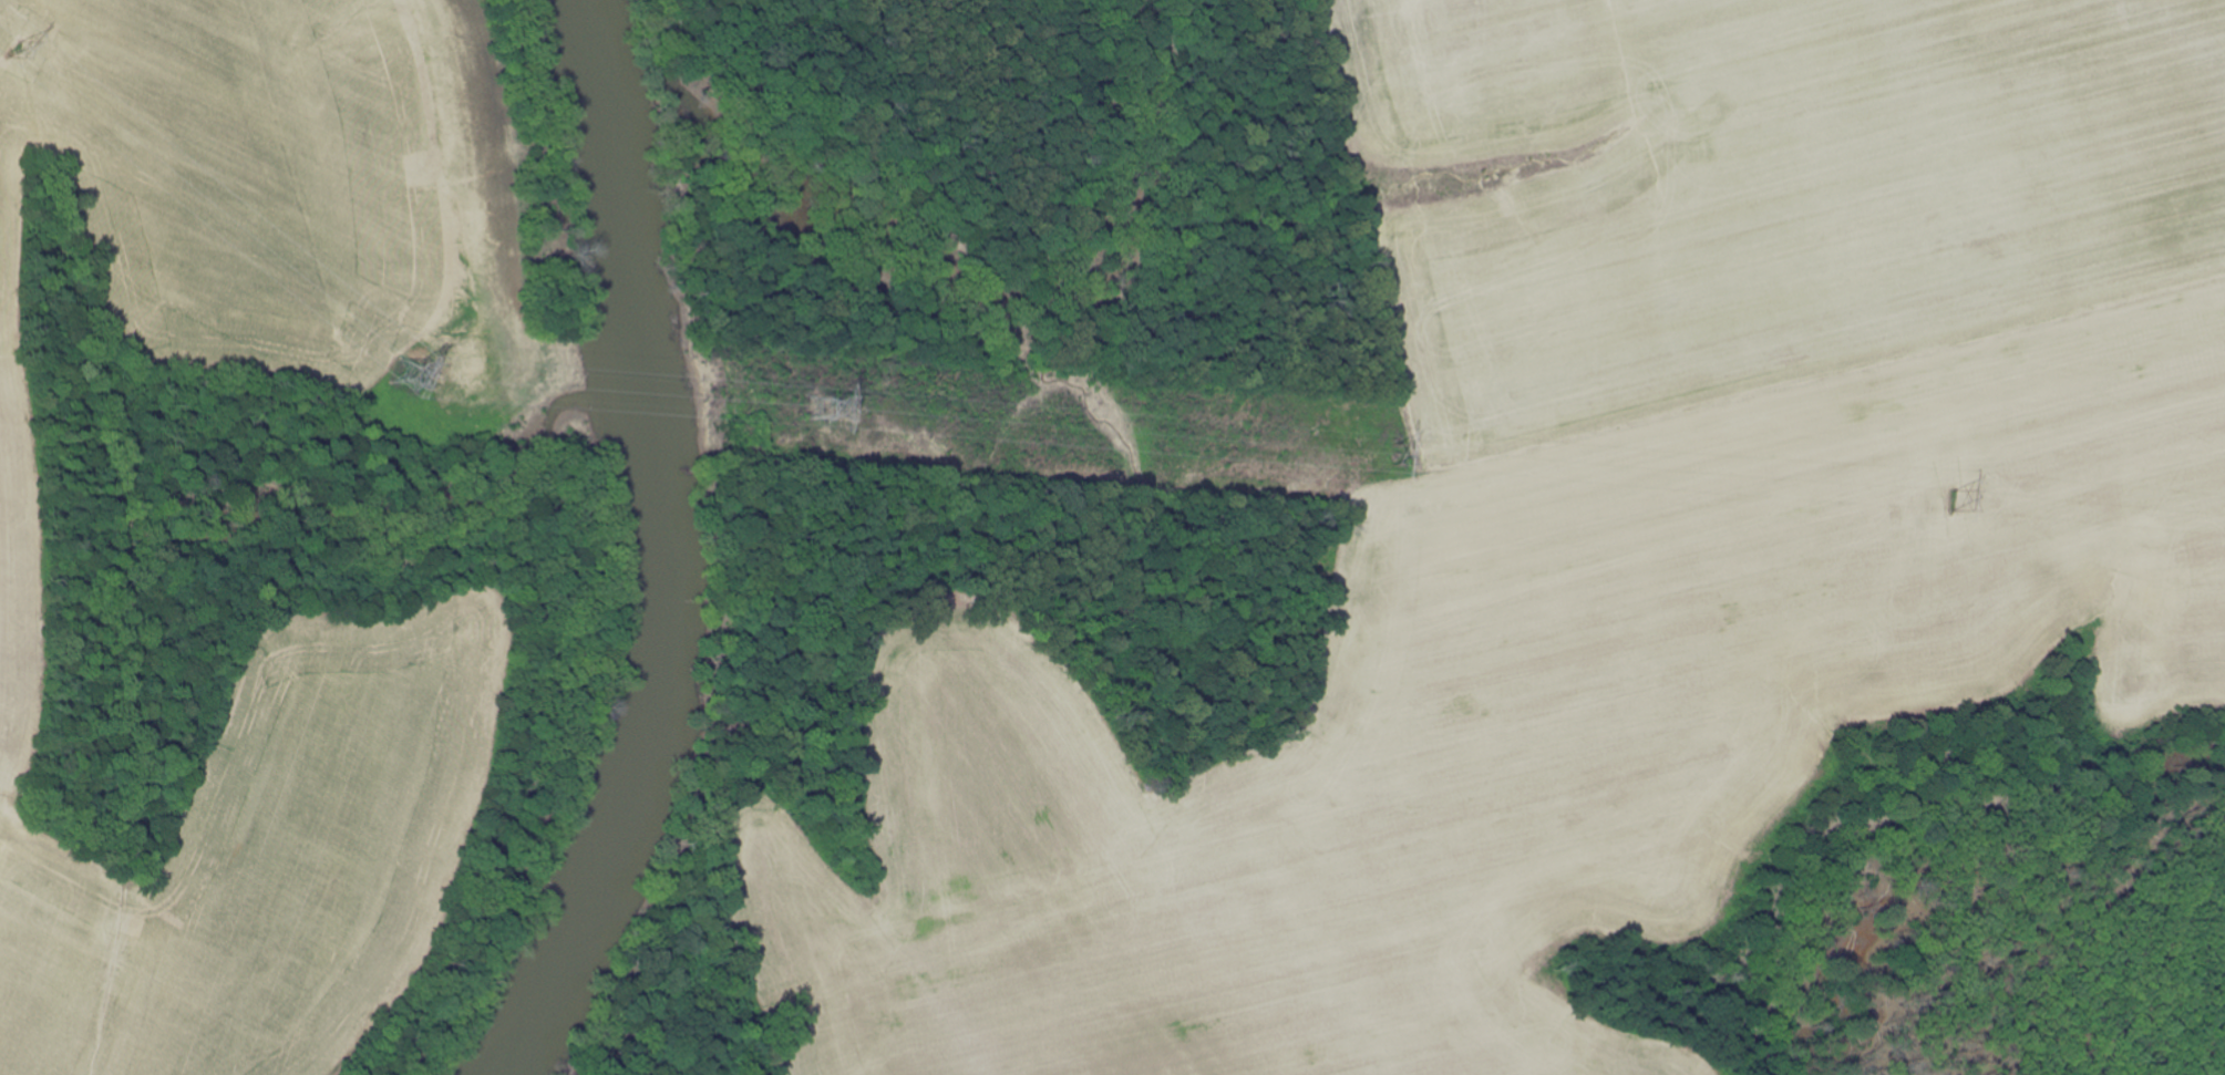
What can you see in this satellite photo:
power tower: (12, 51)
power tower: (405, 376)
power tower: (816, 409)
power tower: (1386, 456)
power tower: (1949, 500)
river: (637, 550)

